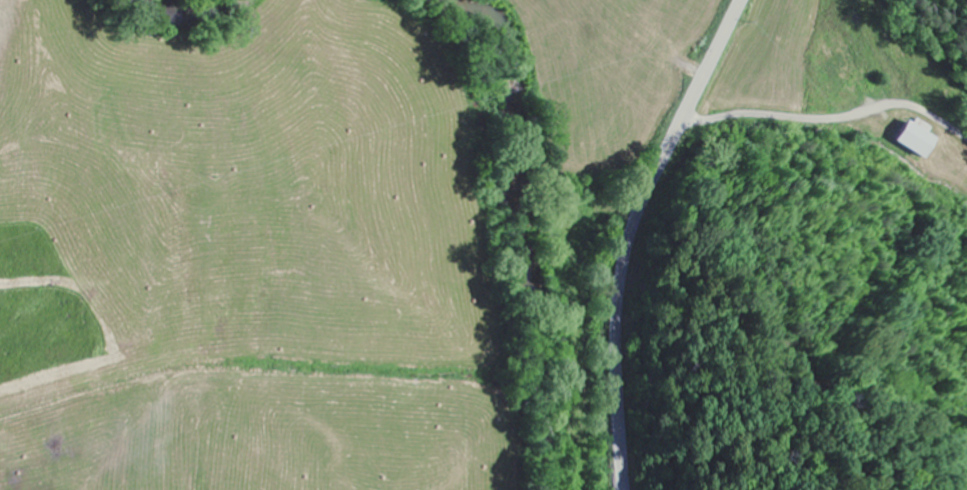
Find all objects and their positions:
road: (829, 117)
building: (917, 142)
river: (526, 223)
road: (632, 232)

